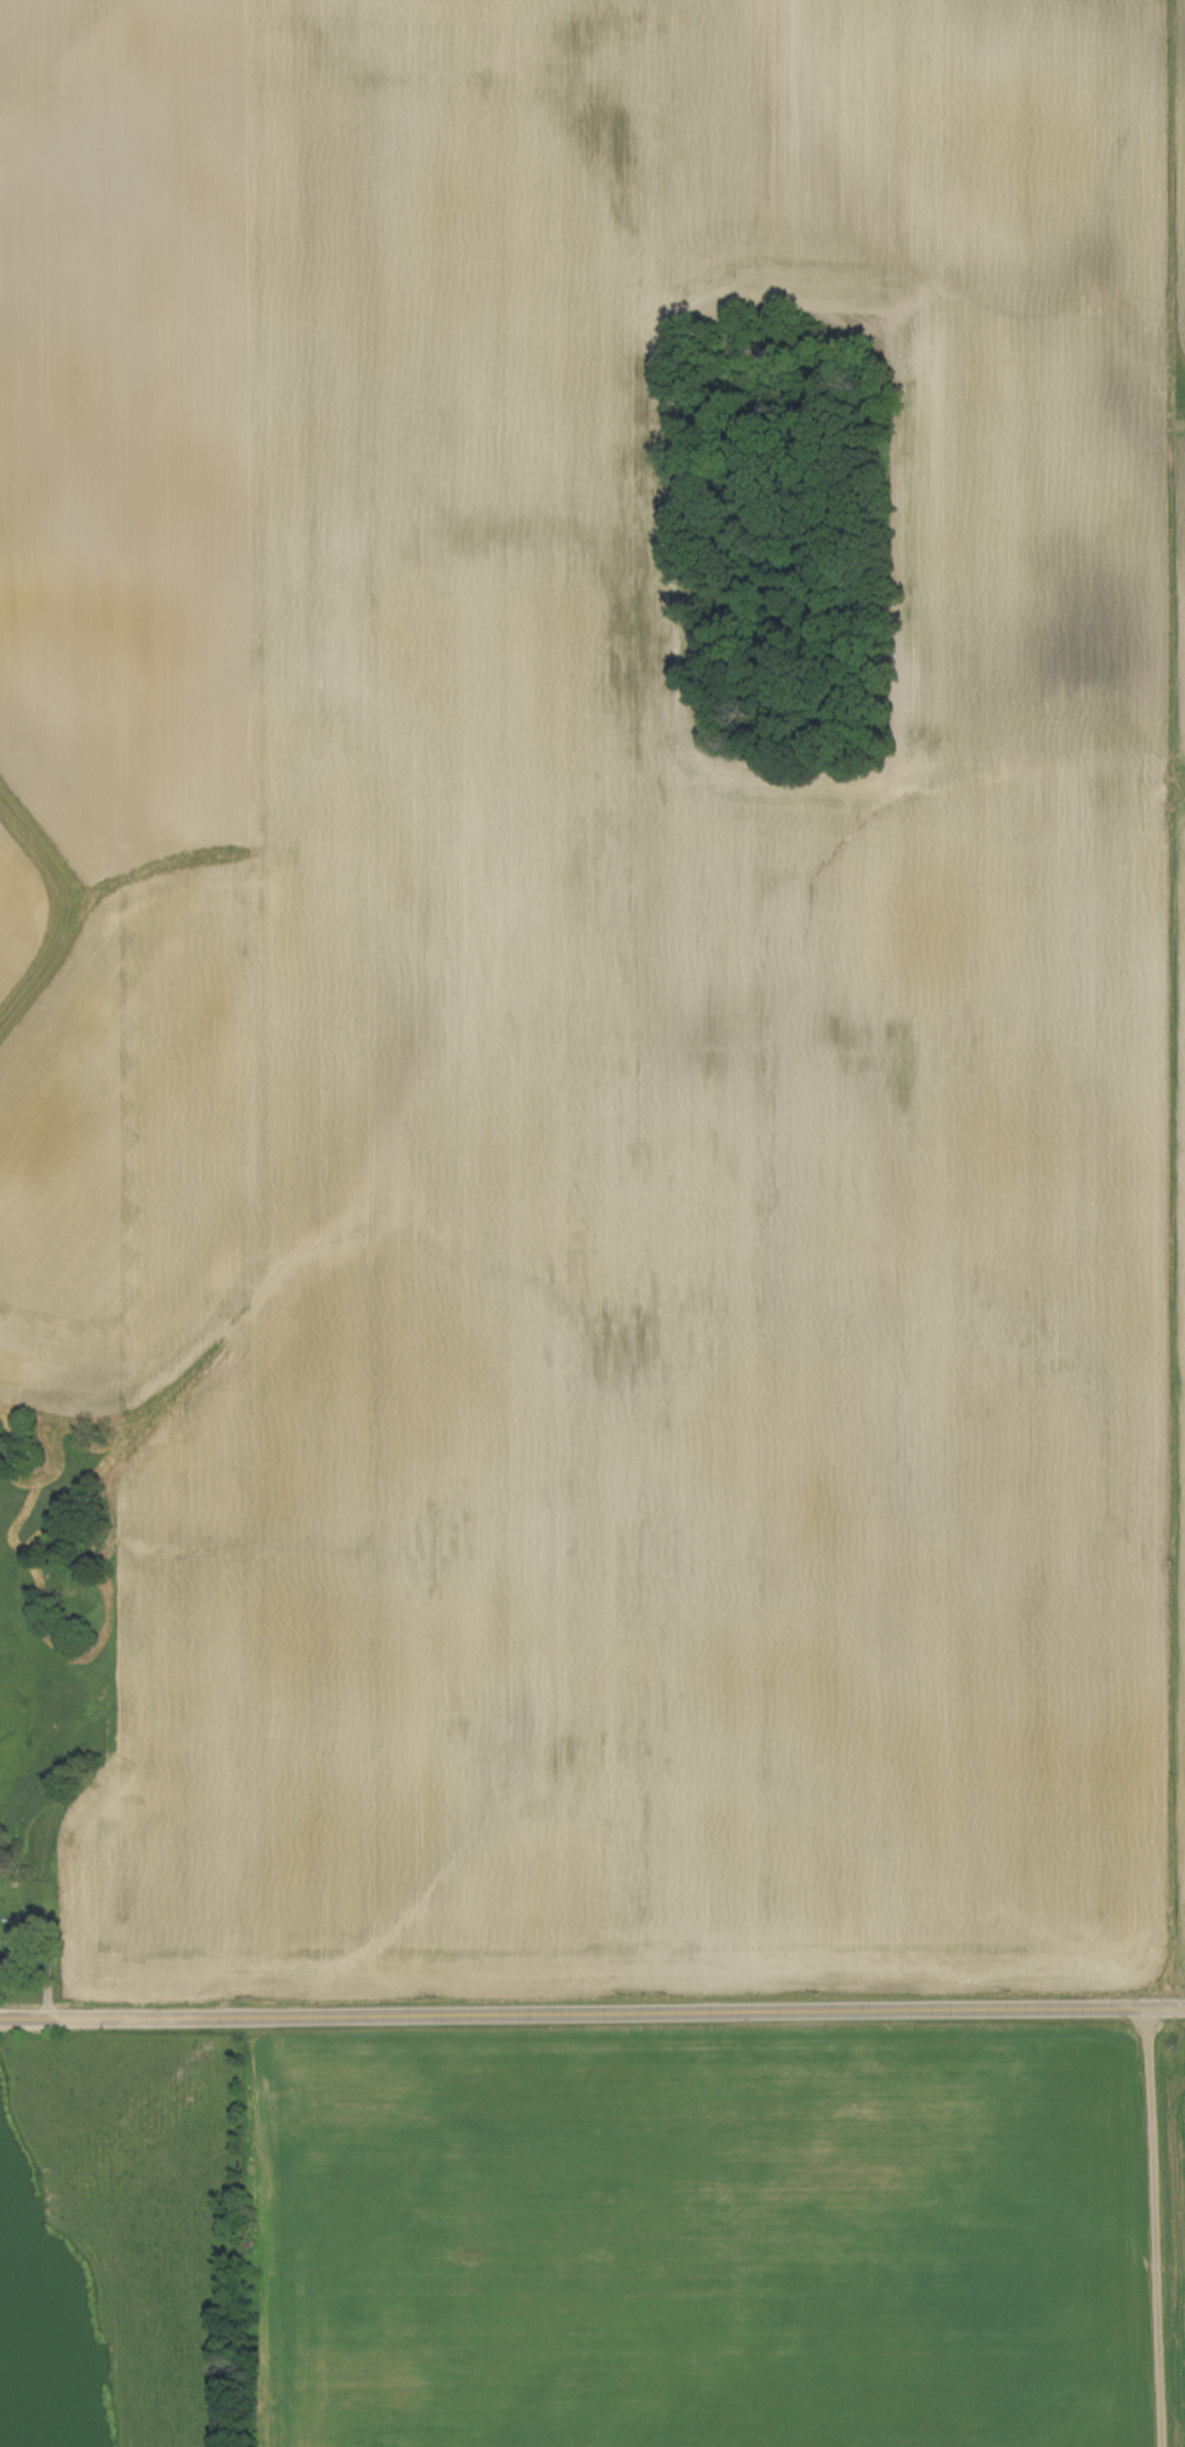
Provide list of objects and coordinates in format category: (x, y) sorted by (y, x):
road: (592, 2014)

